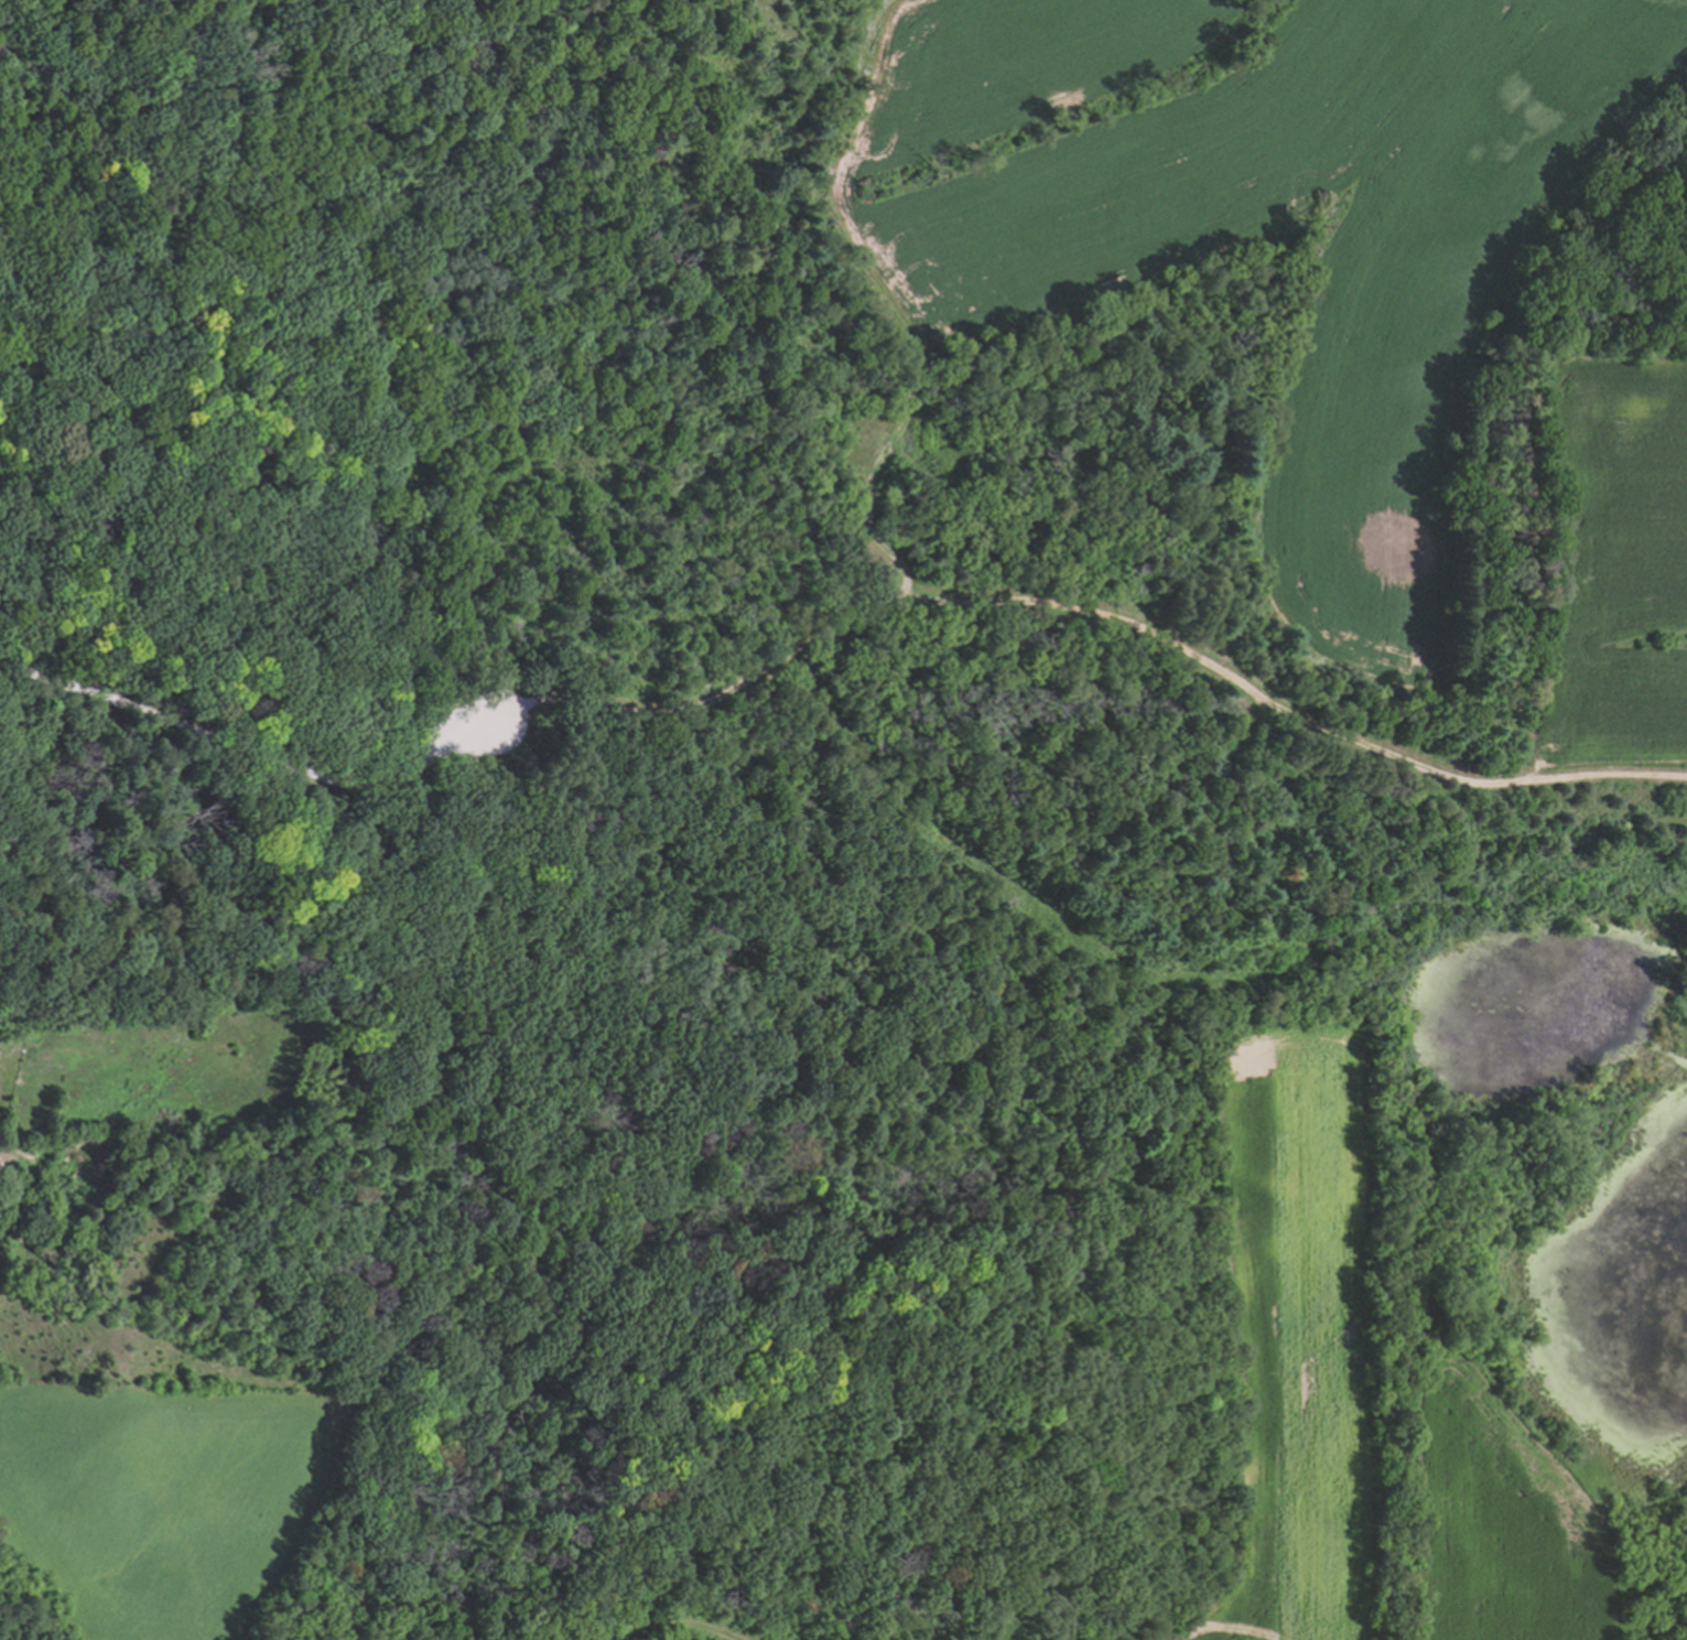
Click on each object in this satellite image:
road: (833, 618)

